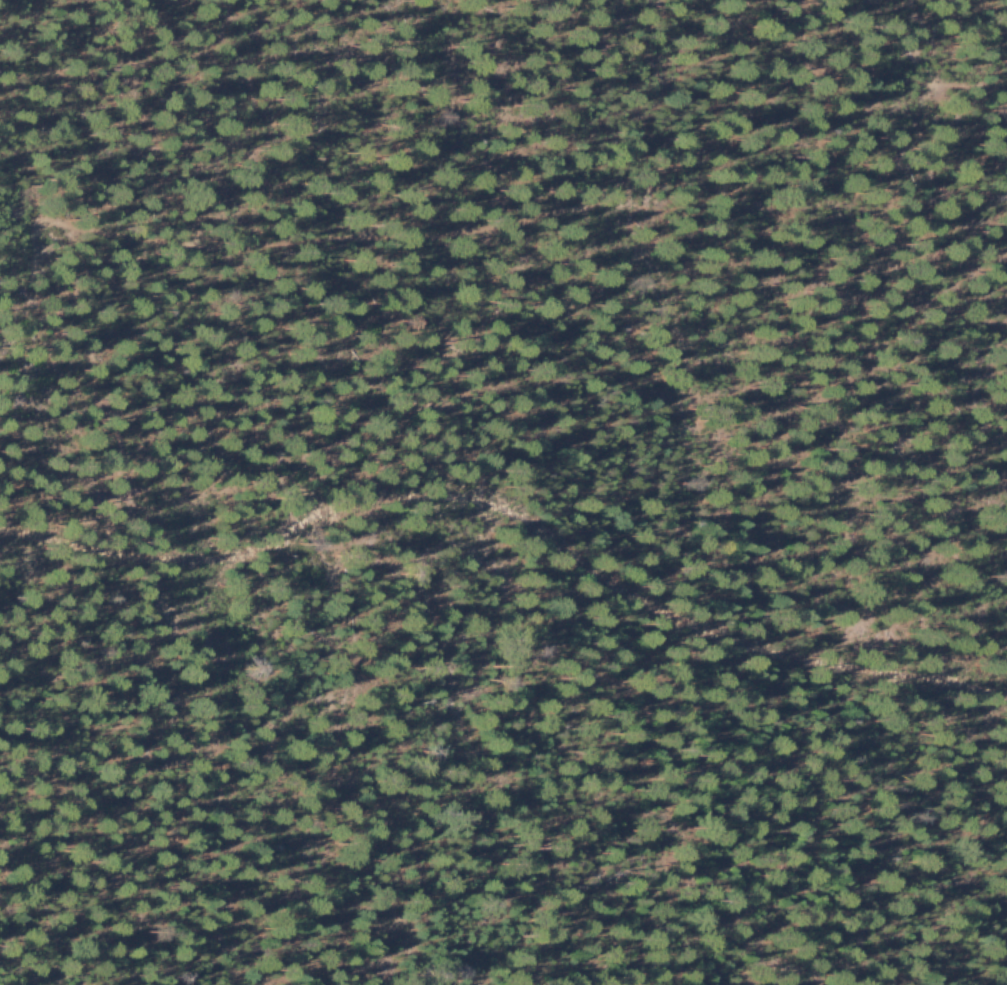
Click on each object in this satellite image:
road: (543, 216)
road: (513, 517)

